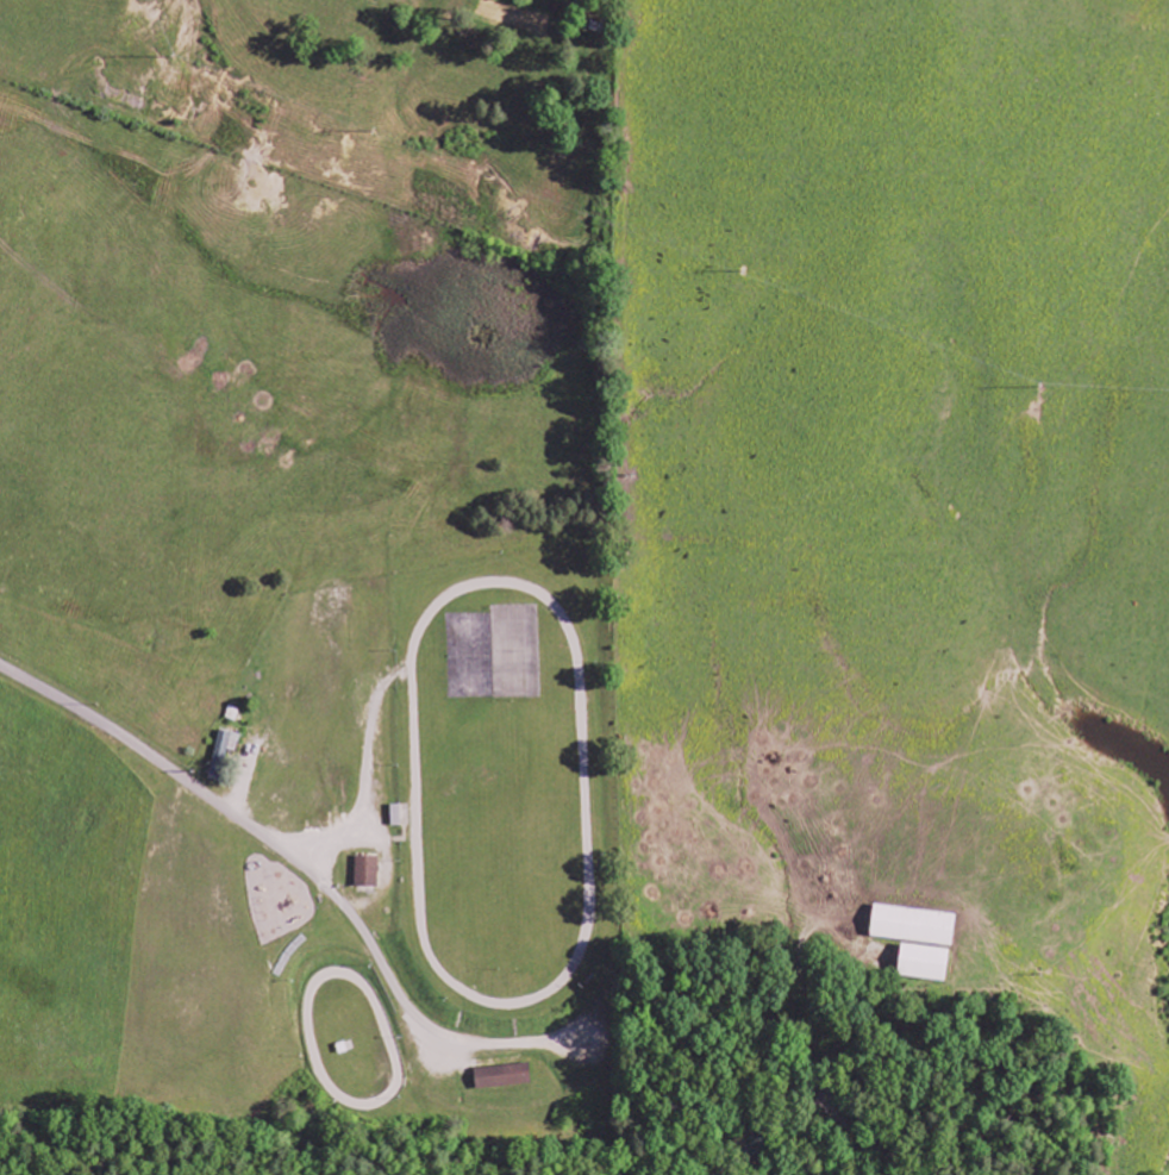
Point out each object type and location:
building: (223, 754)
track: (502, 790)
park: (410, 855)
road: (292, 856)
building: (367, 873)
building: (914, 926)
building: (925, 963)
track: (356, 1038)
road: (586, 1058)
building: (504, 1077)

